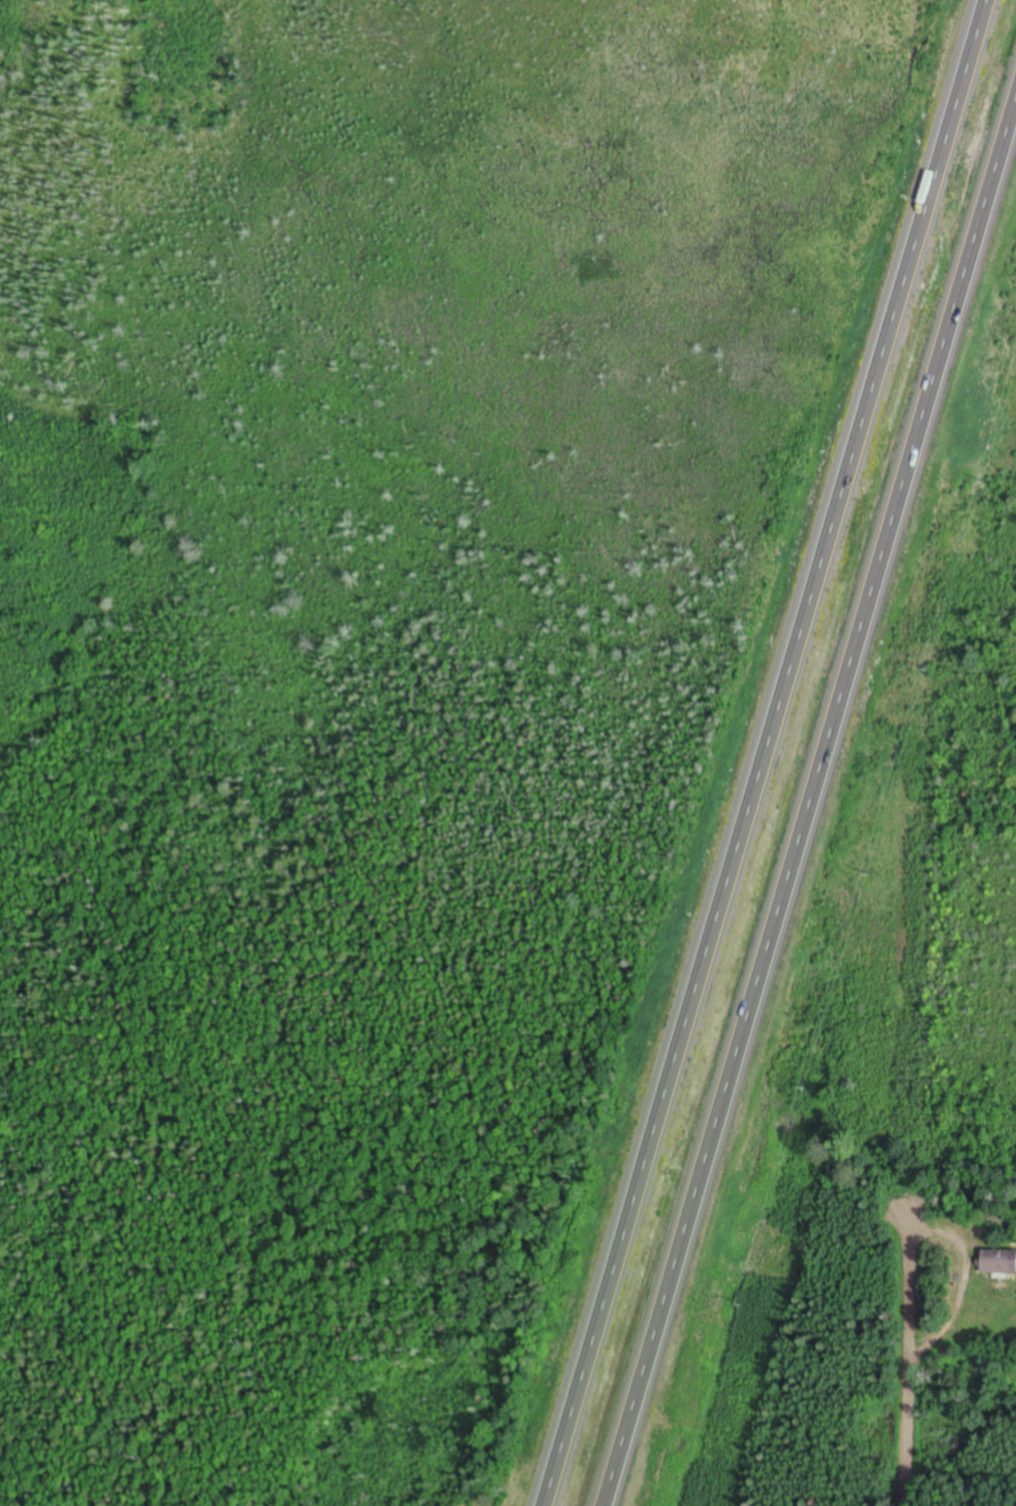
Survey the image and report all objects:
road: (760, 752)
road: (810, 803)
building: (999, 1263)
road: (908, 1351)

